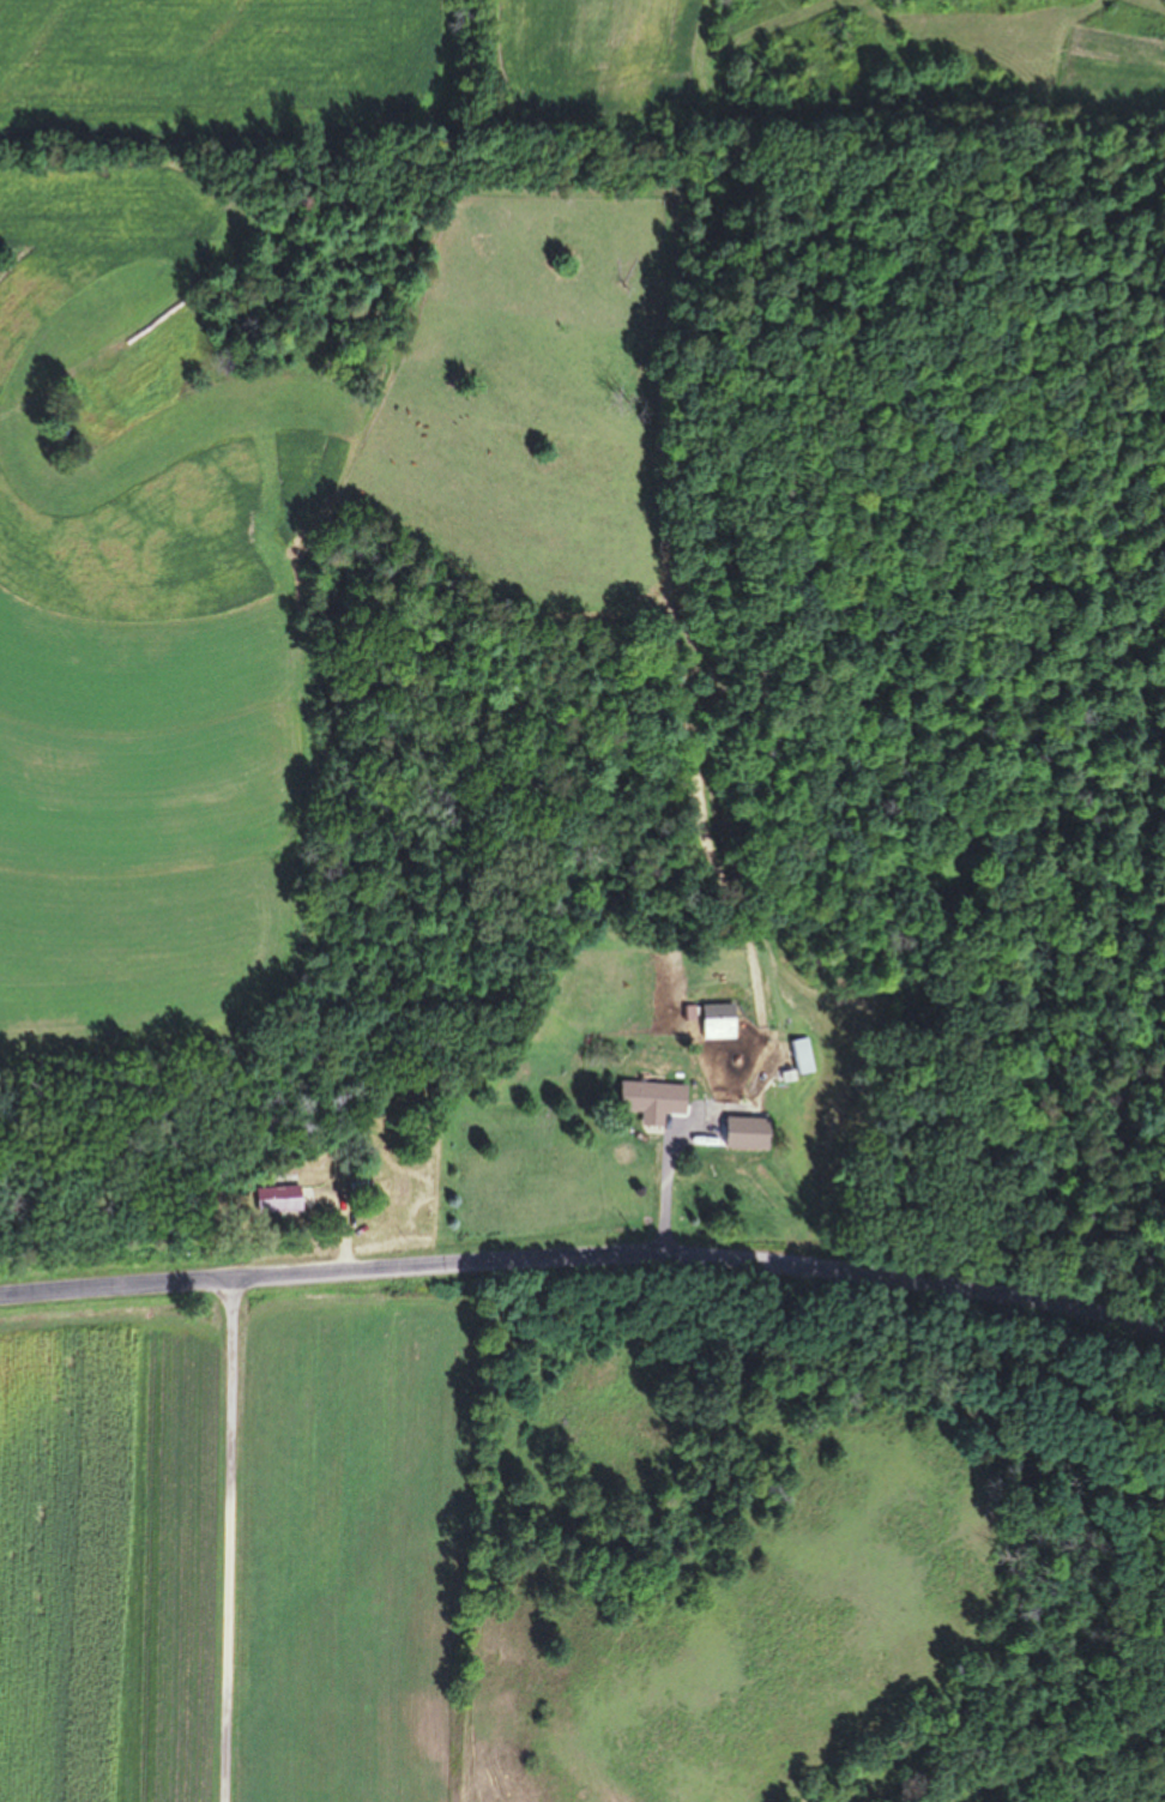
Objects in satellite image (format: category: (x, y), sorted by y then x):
building: (714, 1020)
building: (807, 1056)
building: (650, 1098)
building: (743, 1133)
building: (354, 1188)
building: (274, 1200)
road: (585, 1255)
road: (230, 1539)

